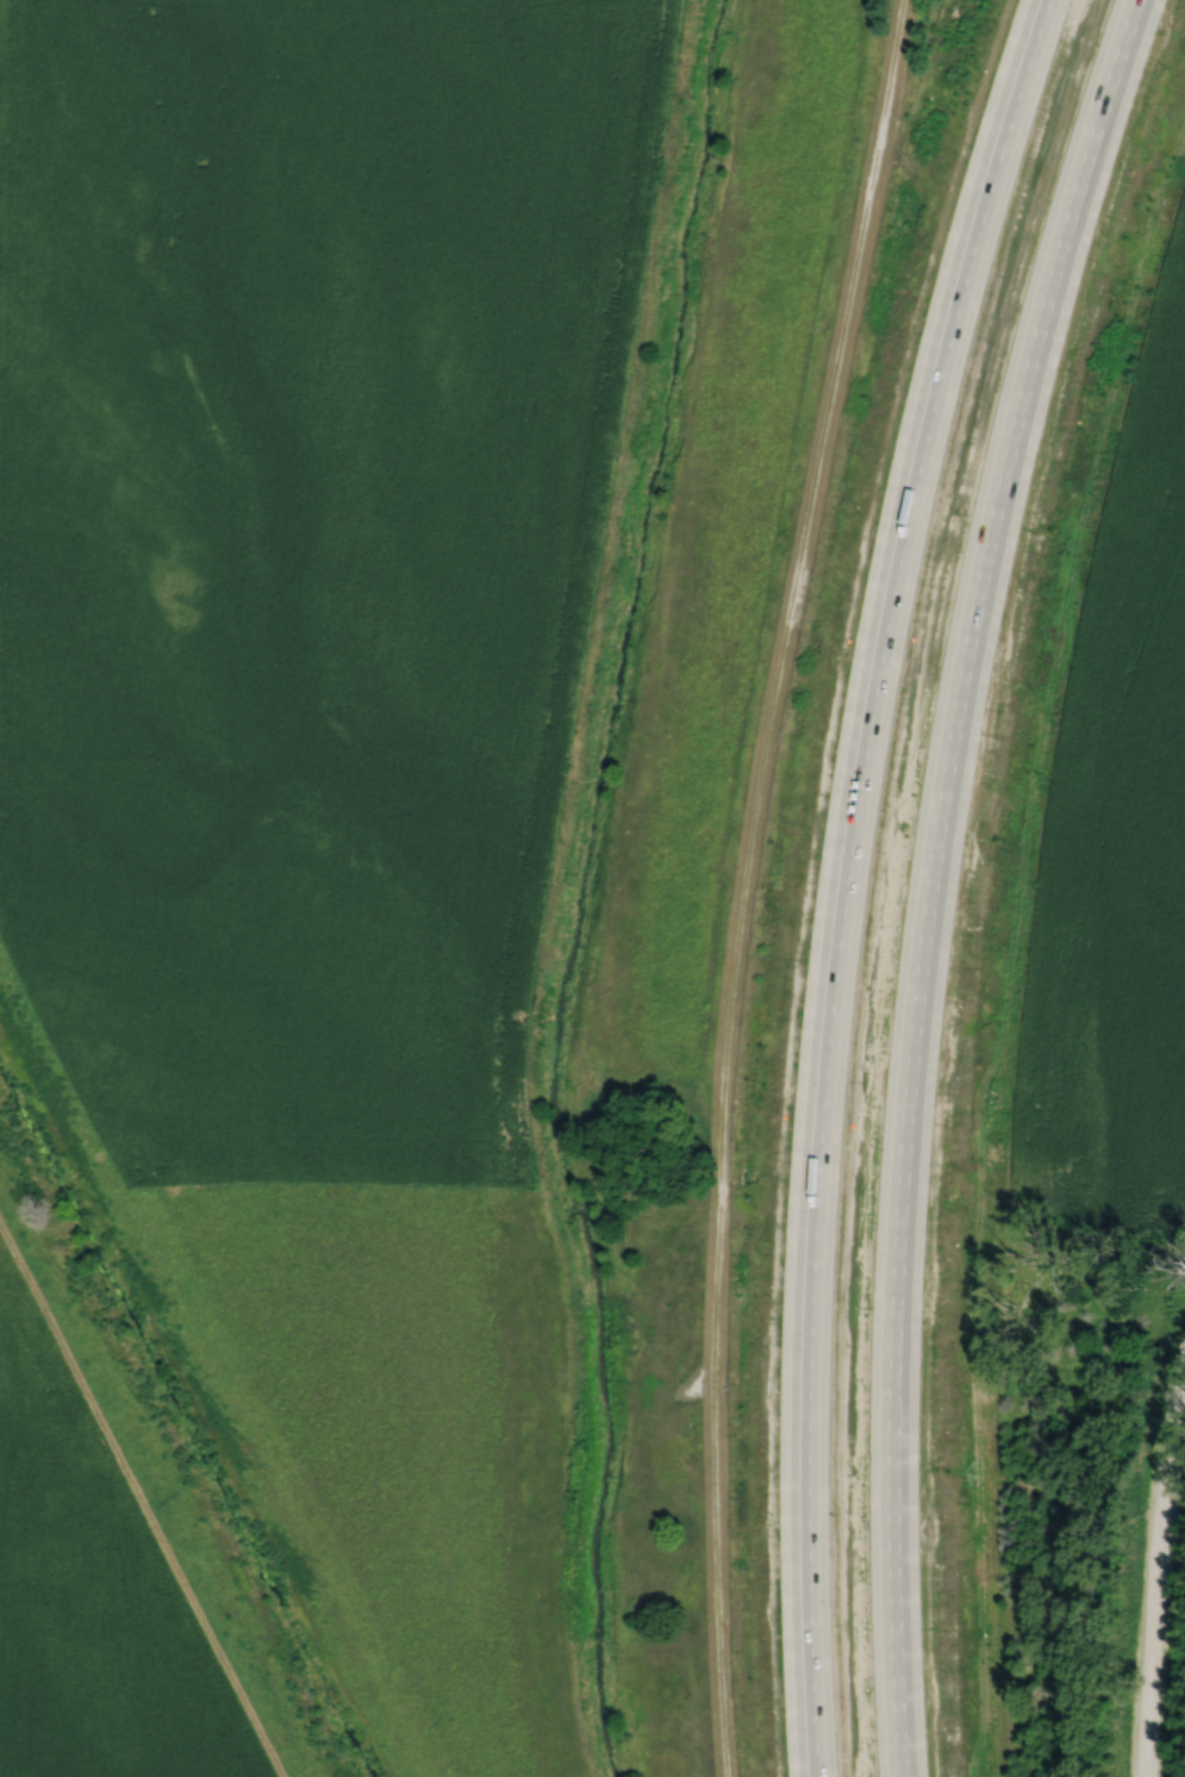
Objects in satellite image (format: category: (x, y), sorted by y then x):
road: (863, 877)
road: (956, 877)
road: (744, 881)
road: (1153, 1576)

